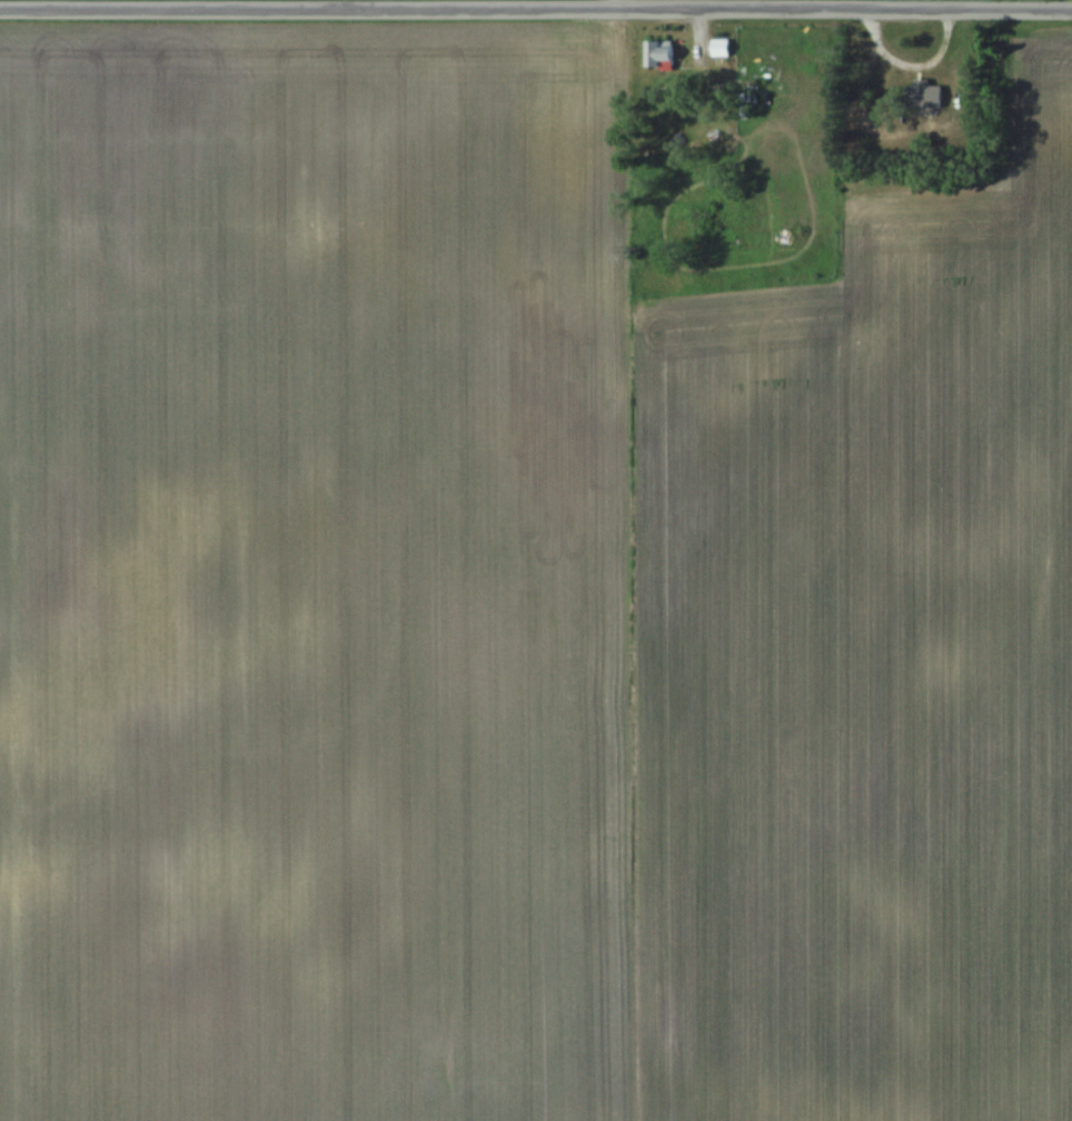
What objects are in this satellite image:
road: (536, 7)
building: (722, 48)
building: (662, 53)
building: (927, 93)

